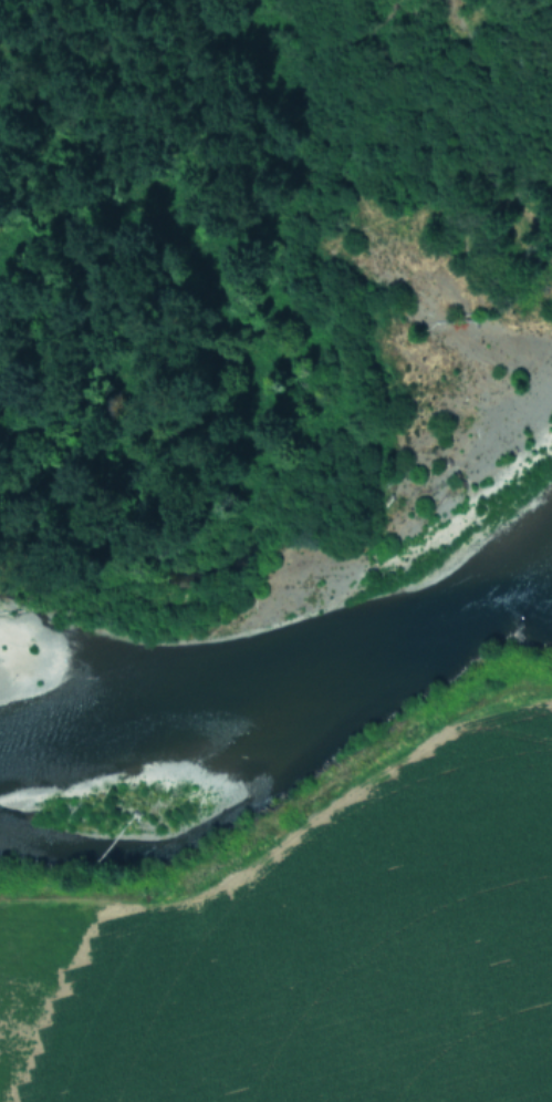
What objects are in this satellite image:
river: (285, 691)
crop: (309, 941)

